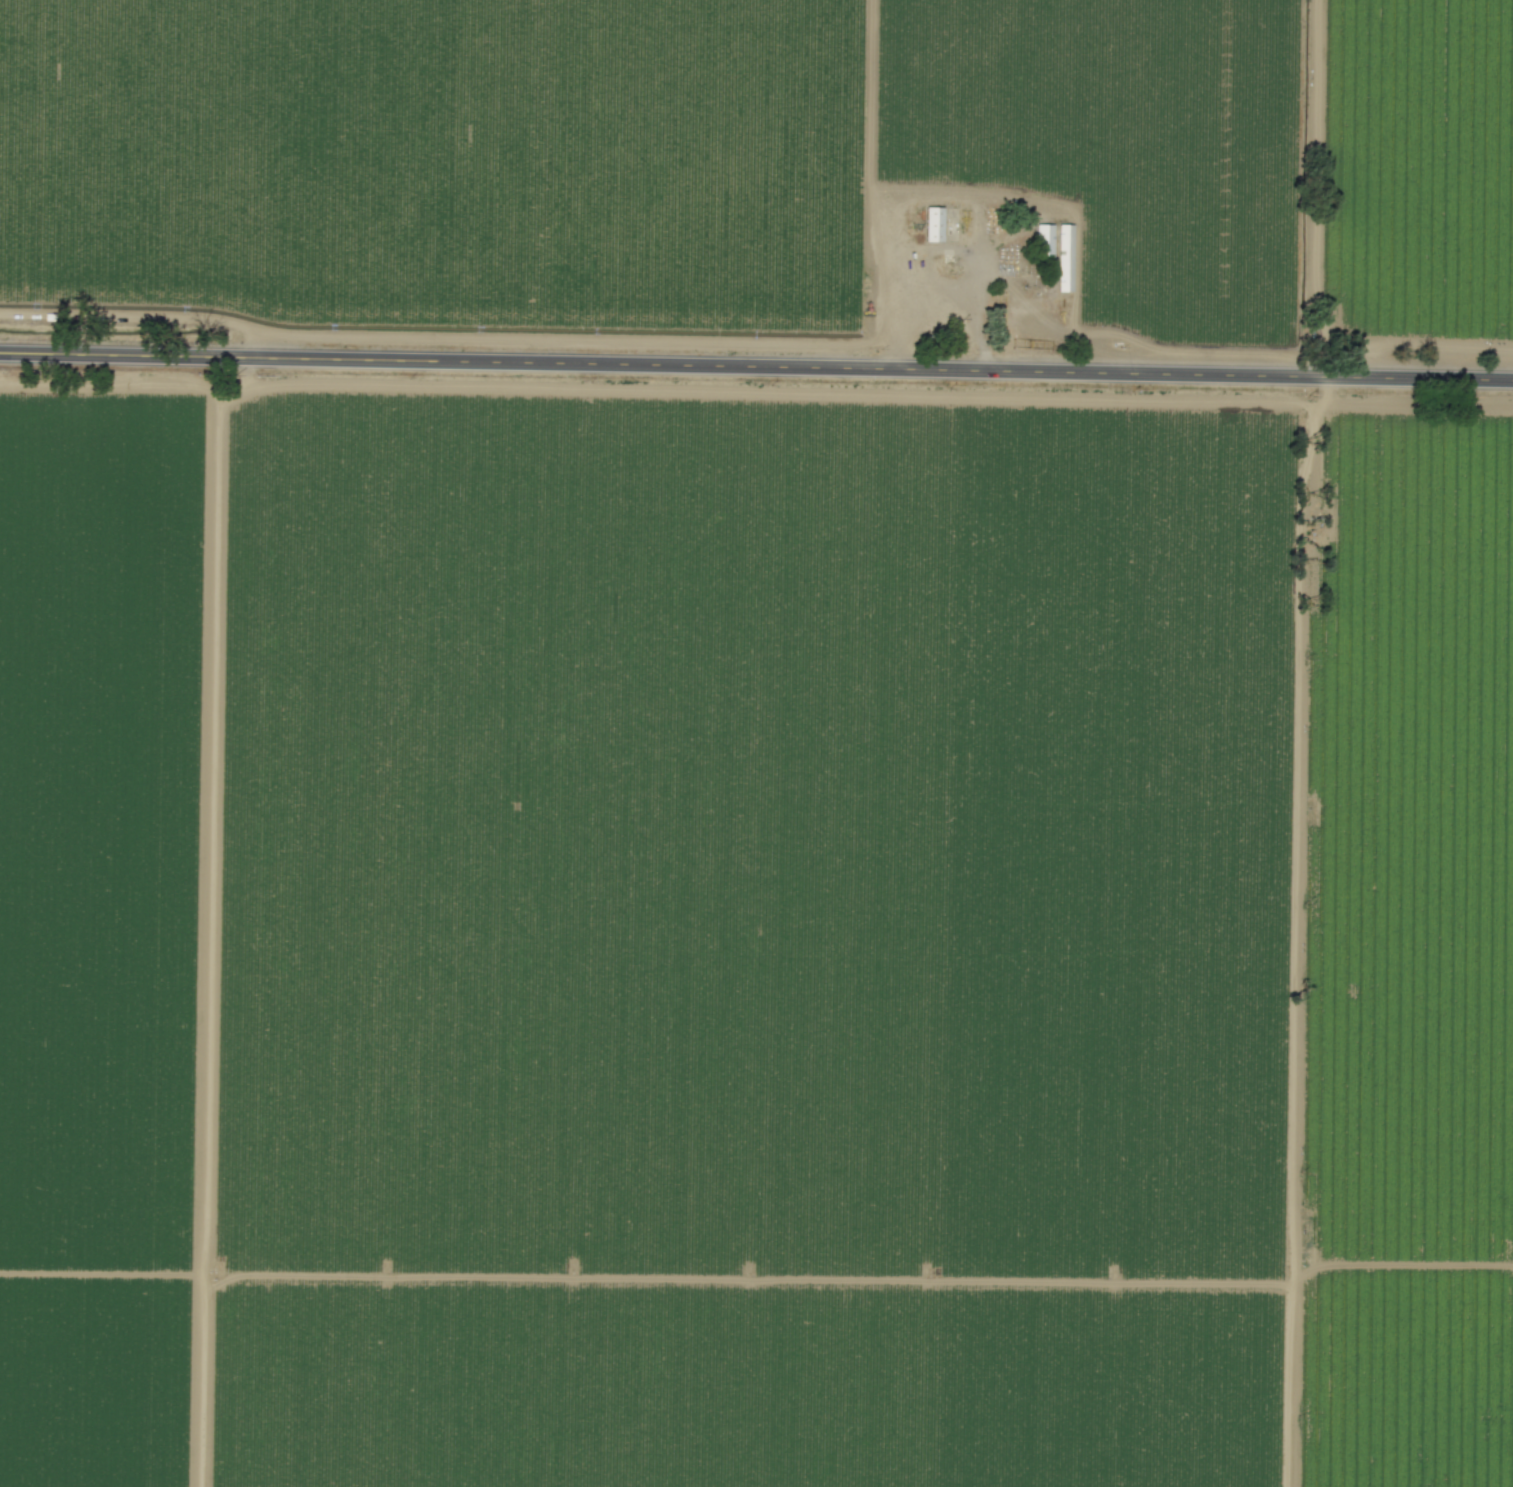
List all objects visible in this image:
building: (936, 223)
building: (1067, 241)
road: (970, 270)
building: (1066, 278)
road: (939, 297)
road: (756, 363)

